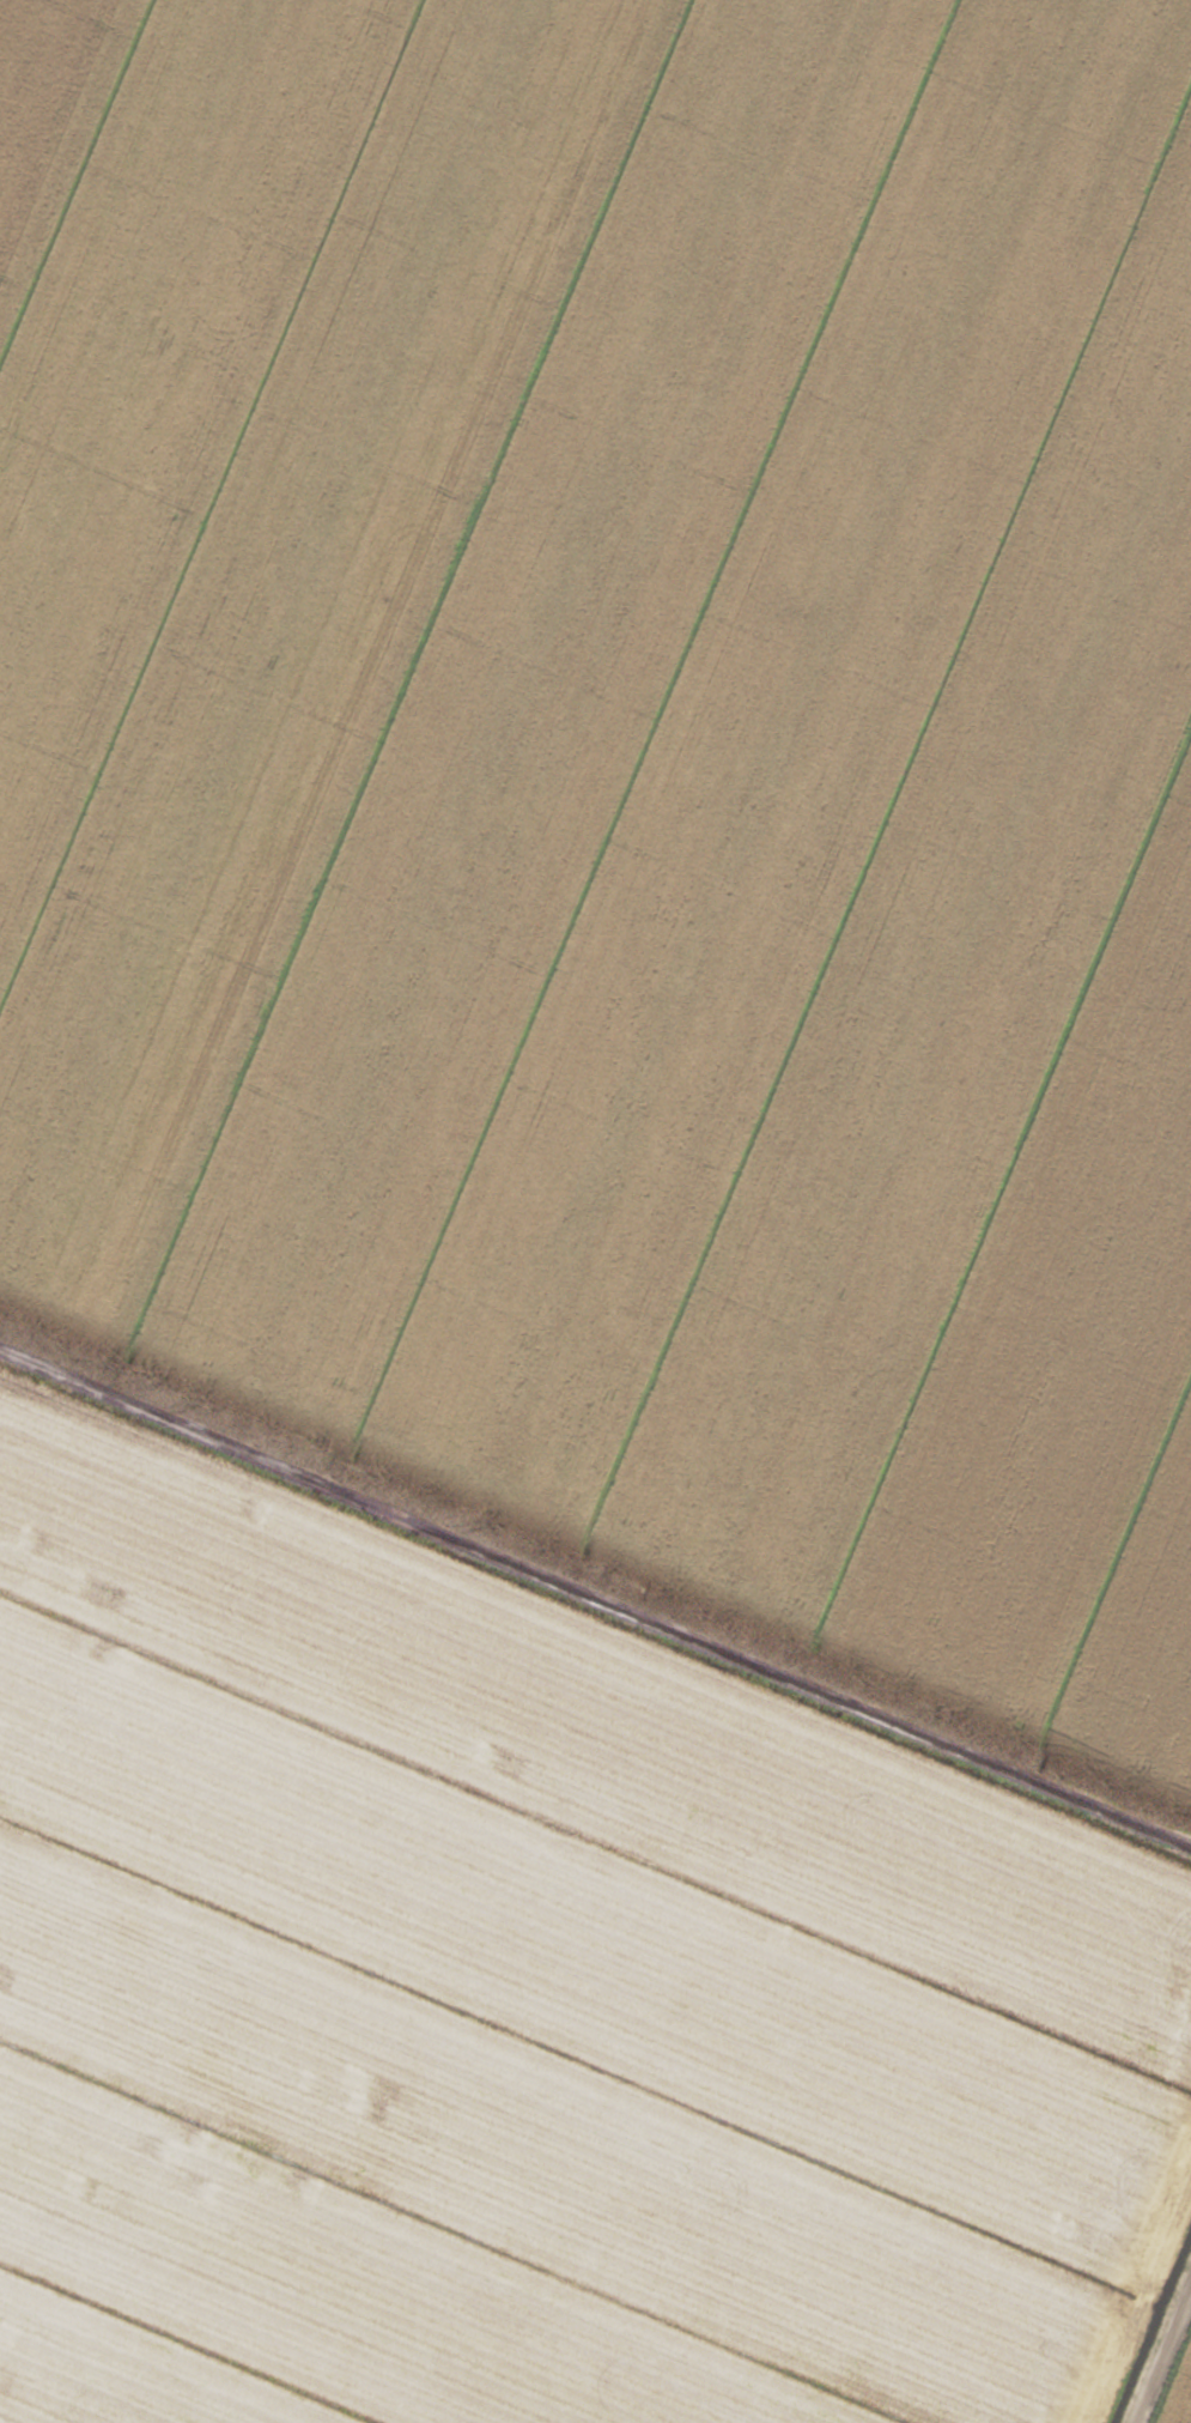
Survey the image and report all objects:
crop: (595, 1211)
road: (1171, 2374)

